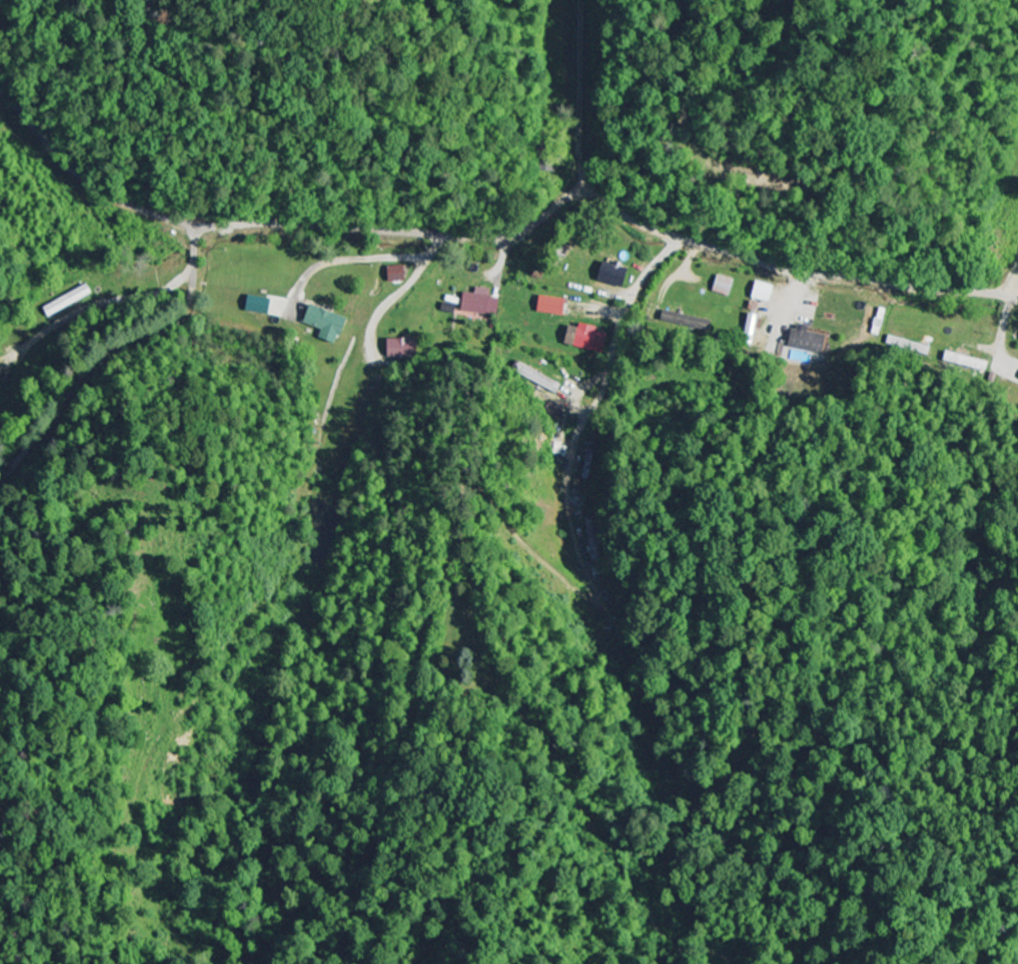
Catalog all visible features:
road: (580, 97)
road: (499, 241)
road: (195, 243)
building: (401, 275)
building: (615, 281)
road: (1012, 283)
building: (727, 287)
building: (767, 293)
building: (483, 303)
road: (100, 305)
building: (556, 307)
building: (329, 324)
building: (754, 324)
building: (588, 339)
building: (809, 341)
building: (904, 345)
building: (403, 349)
building: (967, 361)
road: (95, 362)
road: (588, 415)

